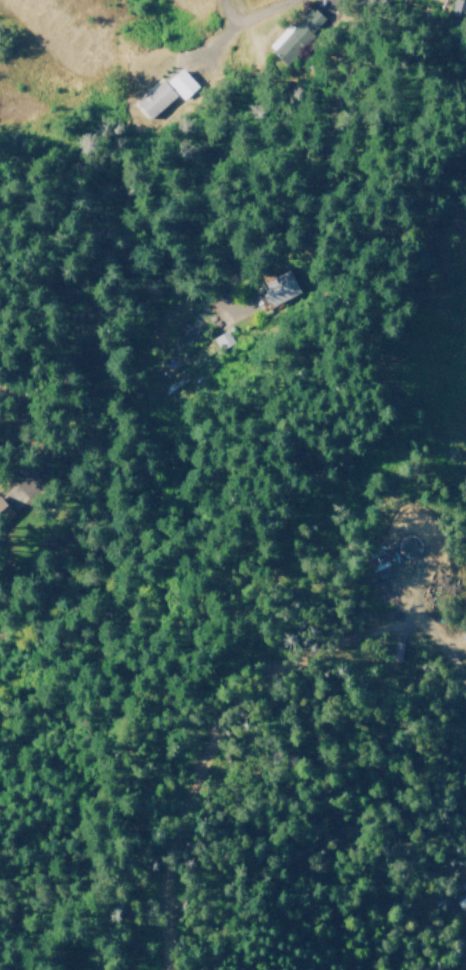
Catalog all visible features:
road: (219, 8)
road: (250, 14)
building: (164, 93)
road: (323, 164)
building: (278, 288)
road: (430, 648)

